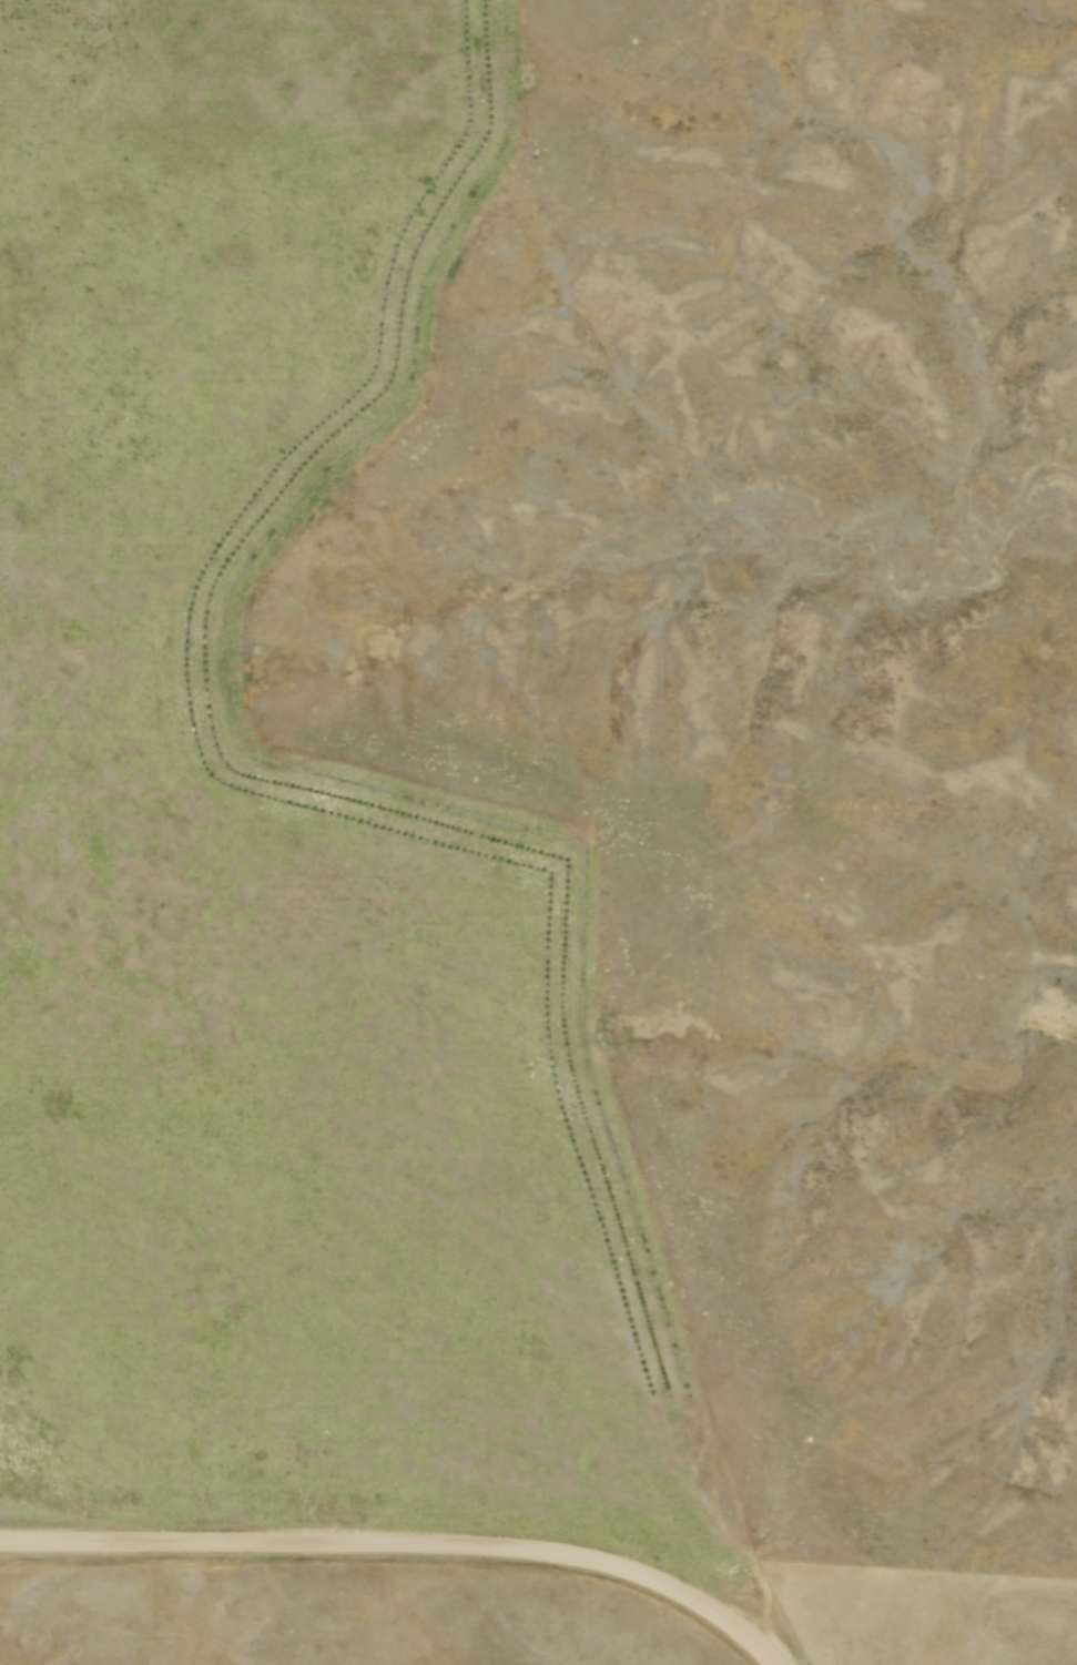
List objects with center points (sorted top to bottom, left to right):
road: (404, 1545)

